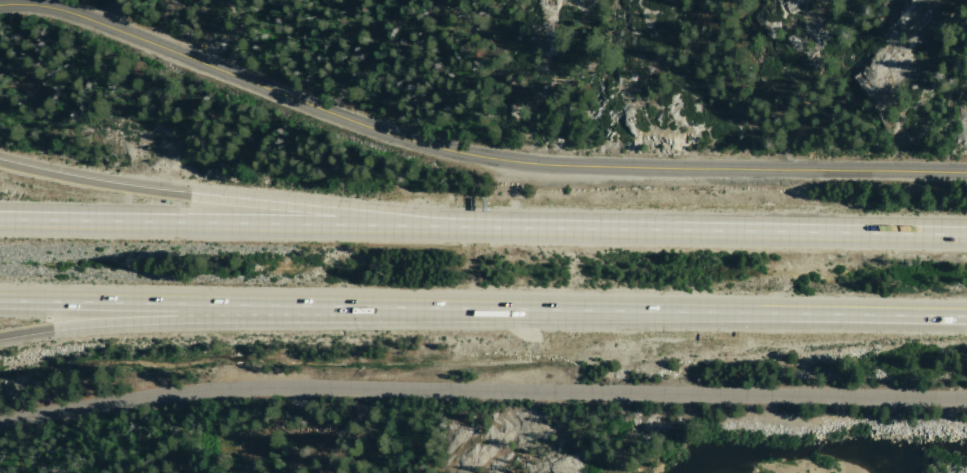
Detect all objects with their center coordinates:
road: (123, 15)
road: (470, 154)
road: (225, 199)
road: (483, 226)
road: (483, 312)
road: (140, 323)
road: (482, 389)
river: (651, 394)
river: (798, 420)
road: (270, 468)

